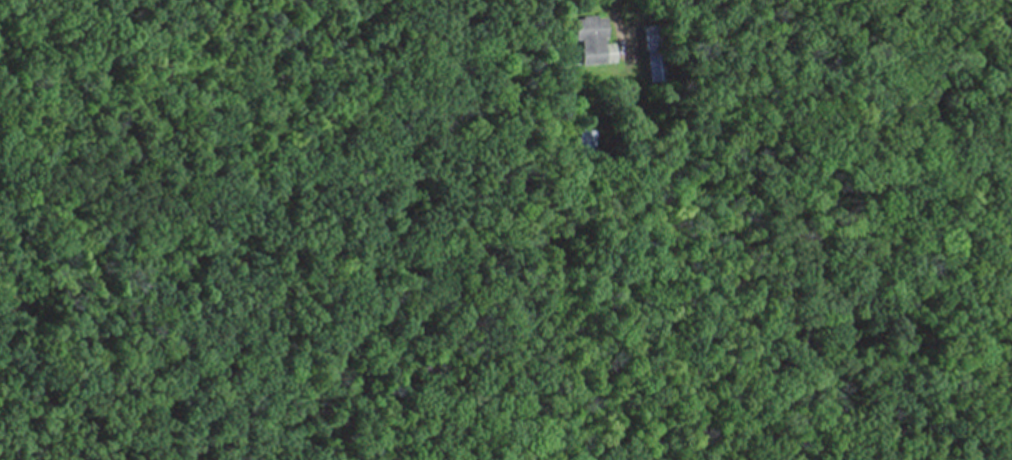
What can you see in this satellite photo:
building: (593, 41)
building: (652, 65)
building: (580, 143)

